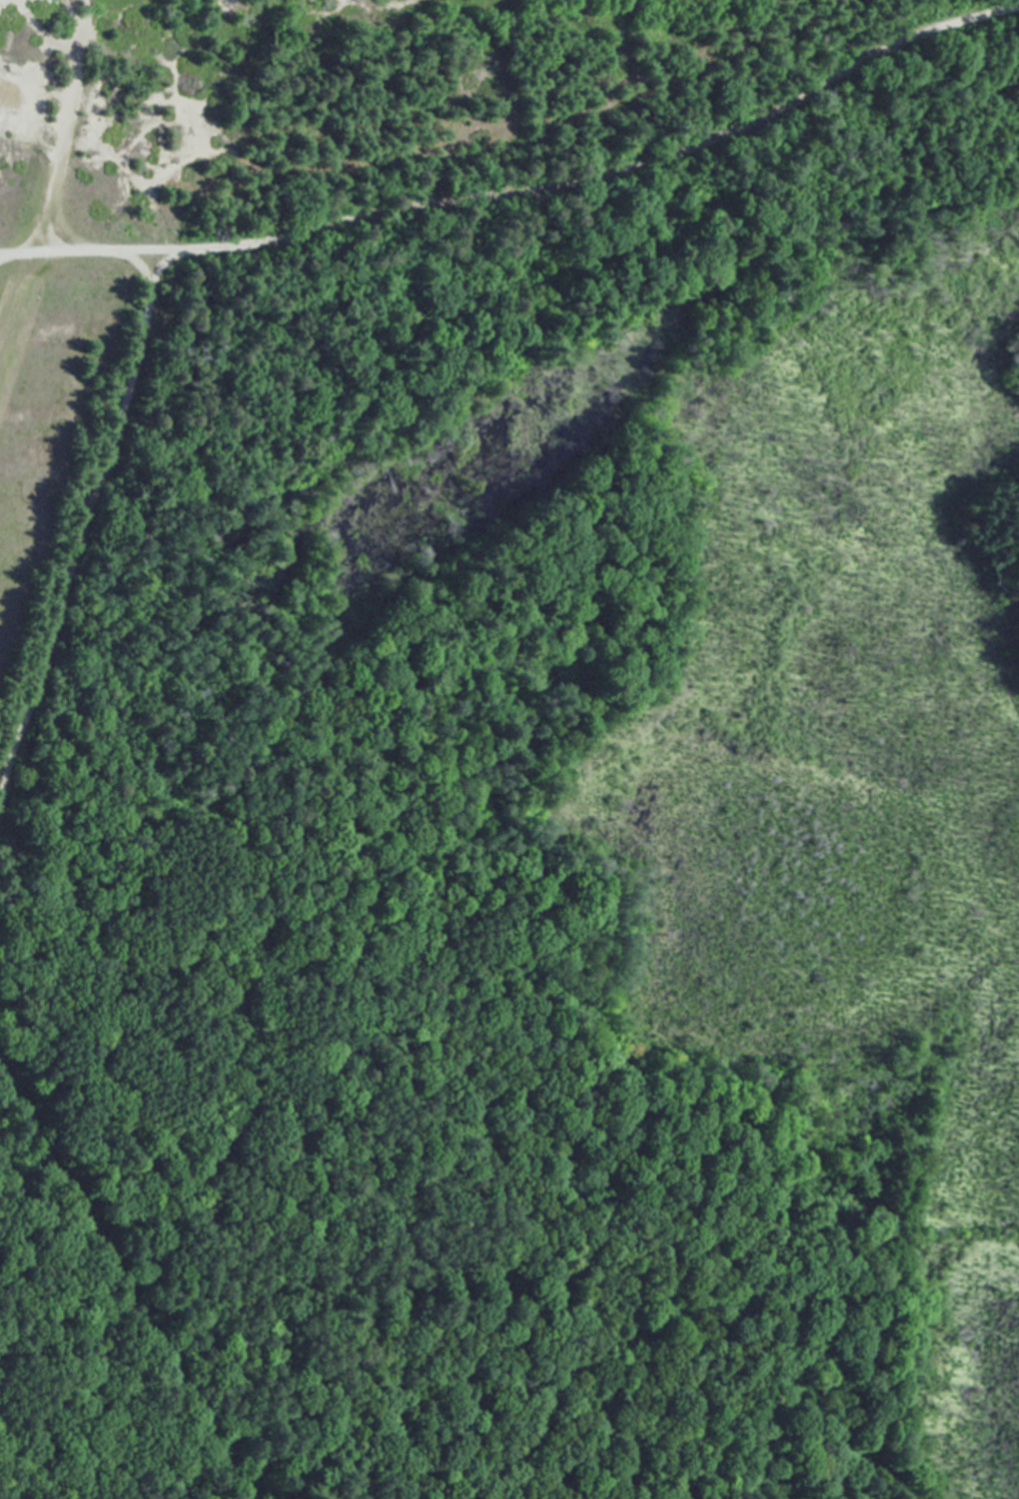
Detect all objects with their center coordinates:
road: (526, 195)
road: (3, 257)
airport runway: (15, 338)
airport: (54, 442)
road: (89, 538)
road: (122, 1282)

